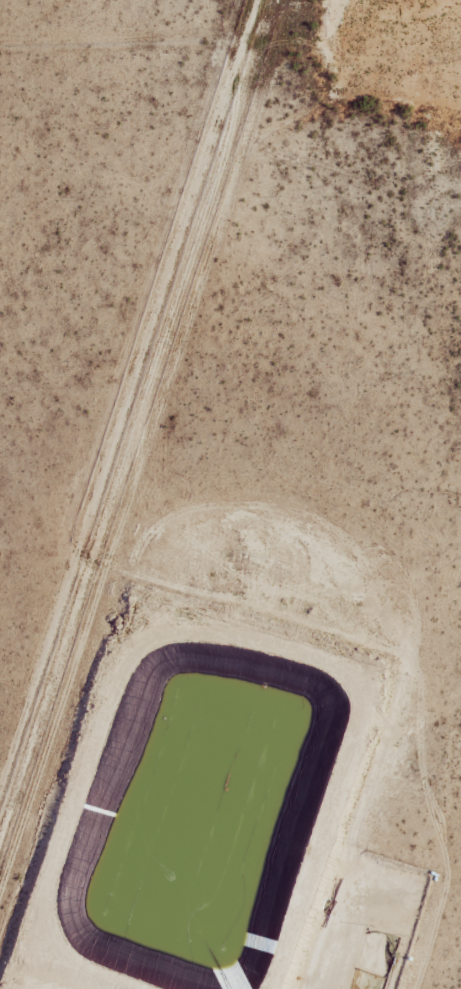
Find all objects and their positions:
road: (327, 867)

